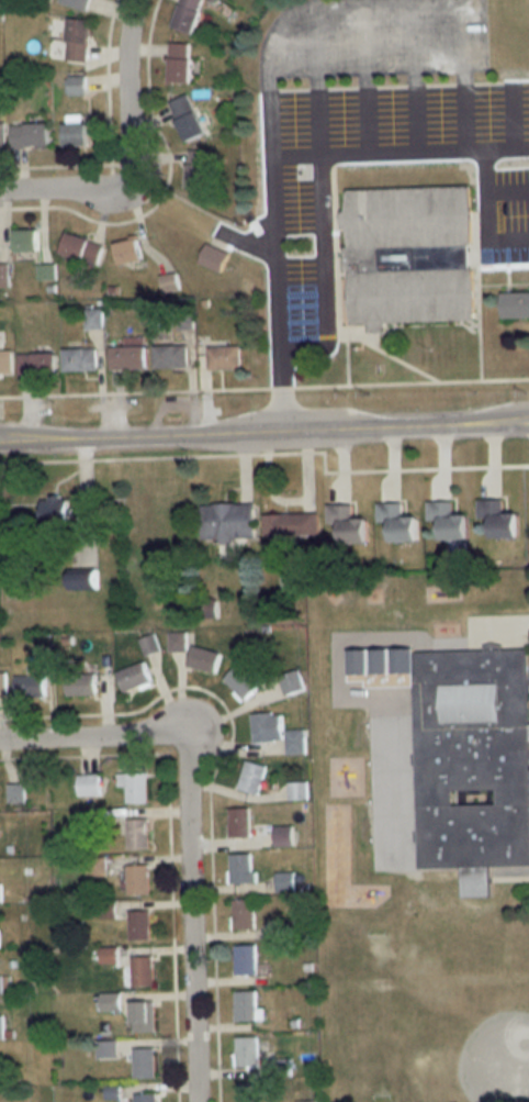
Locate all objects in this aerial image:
building: (79, 4)
building: (183, 14)
building: (77, 40)
road: (267, 64)
building: (177, 68)
building: (76, 85)
road: (125, 90)
building: (185, 116)
building: (2, 134)
building: (75, 134)
building: (29, 135)
road: (497, 149)
road: (368, 153)
building: (199, 174)
road: (63, 192)
building: (24, 236)
building: (79, 244)
building: (126, 247)
building: (408, 255)
building: (213, 256)
building: (45, 268)
building: (3, 272)
building: (514, 302)
building: (92, 315)
building: (126, 352)
building: (168, 355)
building: (224, 357)
building: (76, 358)
building: (4, 360)
building: (34, 361)
road: (264, 435)
building: (56, 510)
building: (499, 519)
building: (449, 520)
building: (398, 521)
building: (227, 522)
building: (348, 522)
building: (291, 524)
building: (83, 581)
building: (207, 609)
building: (177, 641)
building: (149, 645)
building: (204, 659)
building: (133, 677)
building: (2, 681)
building: (241, 681)
building: (291, 681)
building: (80, 683)
building: (30, 686)
building: (267, 726)
road: (89, 738)
building: (295, 741)
building: (464, 754)
building: (252, 777)
building: (88, 784)
building: (134, 787)
building: (297, 791)
building: (14, 792)
building: (239, 822)
building: (138, 833)
building: (283, 835)
building: (95, 866)
building: (241, 868)
building: (138, 879)
building: (284, 881)
building: (244, 913)
road: (189, 922)
building: (139, 924)
building: (245, 959)
building: (143, 970)
building: (0, 984)
building: (245, 1005)
park: (378, 1013)
building: (143, 1016)
building: (1, 1026)
building: (246, 1051)
building: (144, 1062)
building: (250, 1092)
building: (145, 1098)

